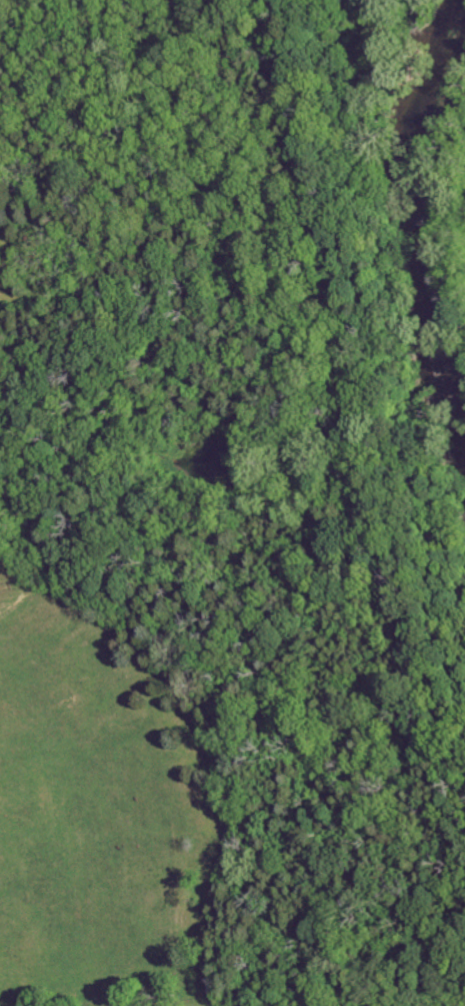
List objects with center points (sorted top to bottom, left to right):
river: (405, 257)

